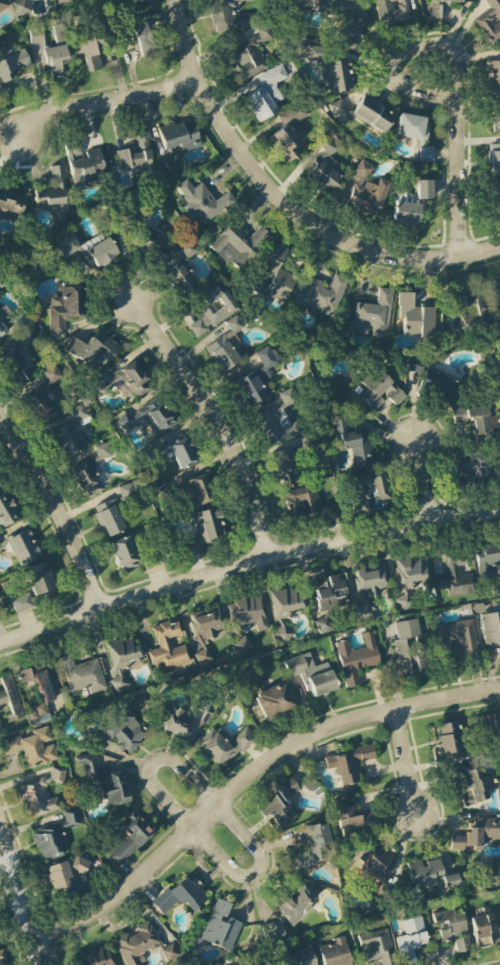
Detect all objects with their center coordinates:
building: (143, 0)
building: (63, 2)
building: (3, 4)
building: (22, 7)
building: (391, 11)
building: (434, 13)
building: (344, 20)
building: (490, 21)
building: (144, 36)
building: (259, 39)
building: (51, 50)
building: (87, 50)
building: (316, 53)
building: (11, 66)
building: (340, 76)
road: (456, 76)
building: (493, 76)
building: (266, 93)
road: (101, 101)
building: (337, 107)
building: (372, 114)
building: (495, 116)
building: (411, 127)
building: (288, 134)
building: (178, 139)
building: (426, 153)
building: (136, 154)
building: (494, 159)
building: (83, 165)
building: (326, 167)
building: (423, 189)
building: (367, 191)
building: (53, 193)
building: (494, 196)
road: (283, 201)
building: (11, 203)
building: (201, 203)
building: (406, 214)
building: (148, 244)
building: (238, 244)
building: (188, 248)
building: (89, 249)
building: (177, 271)
building: (275, 276)
building: (321, 296)
building: (496, 298)
building: (63, 309)
building: (211, 311)
building: (469, 313)
building: (1, 315)
building: (373, 316)
building: (415, 317)
building: (2, 329)
building: (225, 346)
building: (93, 351)
building: (15, 363)
building: (257, 378)
building: (125, 382)
building: (434, 384)
building: (377, 390)
road: (215, 416)
building: (157, 418)
building: (474, 419)
building: (278, 420)
building: (125, 422)
building: (71, 433)
building: (353, 443)
building: (103, 451)
building: (181, 452)
building: (285, 468)
building: (473, 468)
road: (424, 476)
building: (86, 480)
building: (195, 492)
building: (358, 493)
building: (305, 504)
road: (58, 507)
building: (7, 511)
building: (107, 518)
building: (203, 532)
building: (21, 547)
building: (123, 554)
building: (487, 559)
road: (246, 564)
building: (412, 571)
building: (454, 576)
building: (39, 579)
building: (371, 579)
building: (330, 593)
building: (22, 603)
building: (286, 607)
building: (362, 611)
building: (245, 620)
building: (204, 631)
building: (491, 635)
building: (455, 640)
building: (167, 645)
building: (407, 648)
building: (356, 659)
building: (121, 661)
building: (82, 675)
building: (310, 676)
building: (14, 692)
building: (273, 700)
building: (38, 713)
building: (0, 714)
building: (173, 720)
building: (496, 720)
building: (1, 727)
building: (123, 731)
building: (449, 741)
building: (223, 746)
building: (32, 747)
road: (406, 762)
building: (348, 763)
road: (150, 767)
building: (57, 775)
road: (249, 778)
building: (104, 781)
building: (36, 798)
building: (278, 803)
building: (347, 820)
building: (481, 831)
building: (129, 838)
building: (315, 842)
building: (457, 842)
building: (46, 843)
building: (376, 863)
building: (82, 867)
road: (253, 873)
building: (59, 876)
building: (428, 876)
building: (180, 896)
road: (22, 897)
building: (296, 905)
building: (220, 927)
building: (453, 929)
building: (271, 930)
building: (482, 930)
building: (410, 940)
building: (136, 944)
building: (377, 947)
building: (169, 952)
building: (334, 953)
building: (96, 957)
building: (3, 958)
building: (299, 958)
building: (259, 963)

